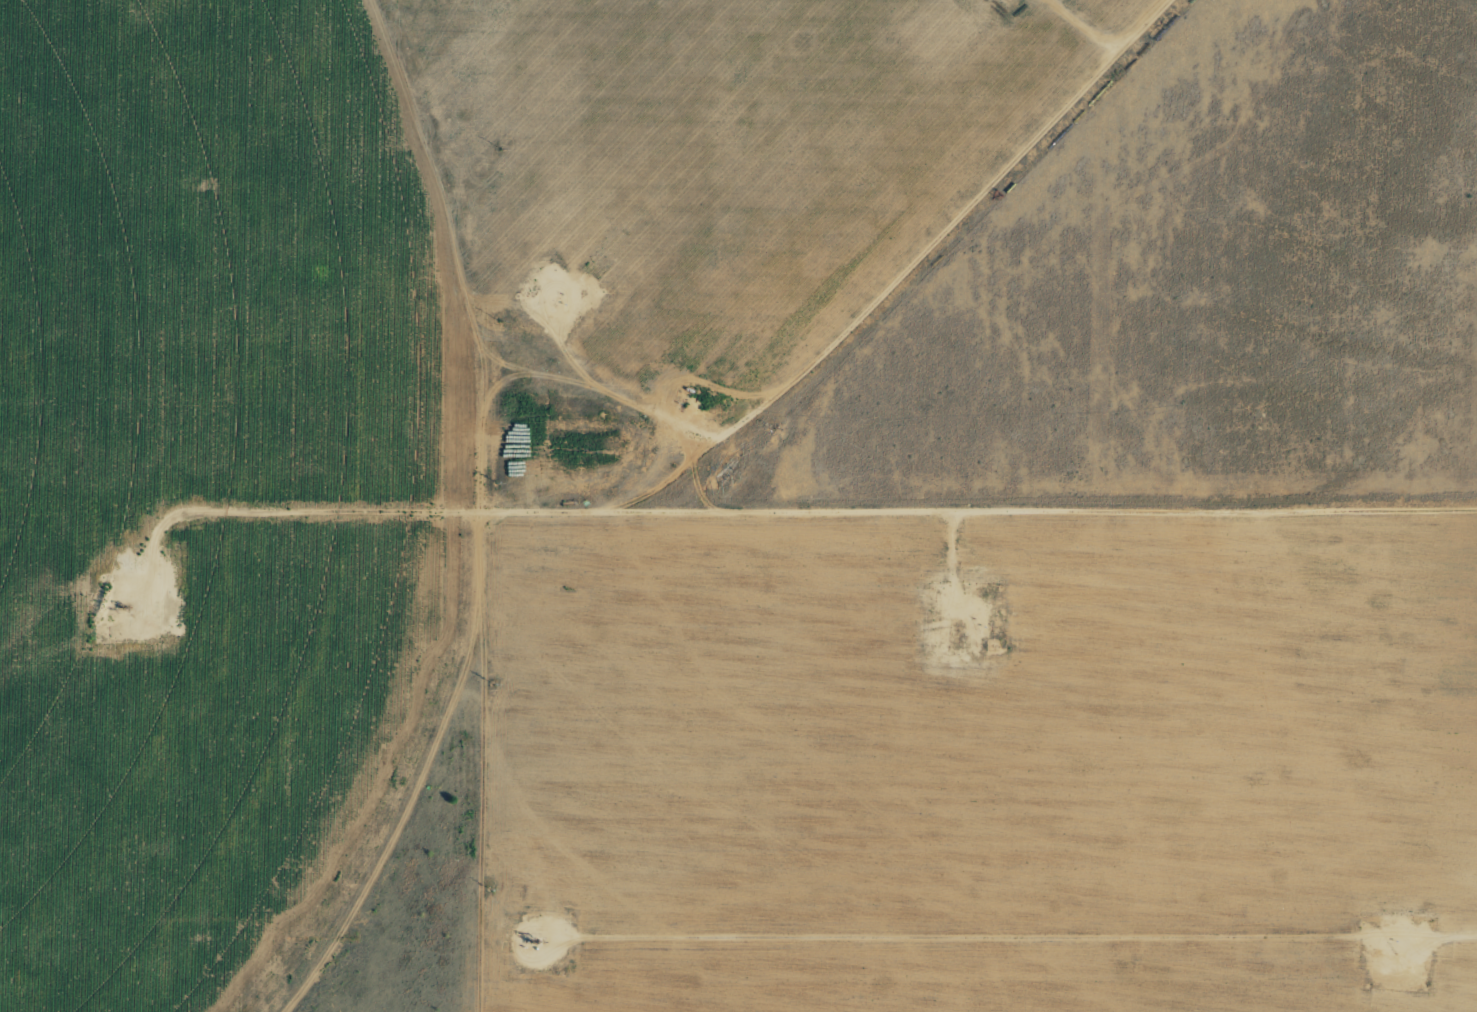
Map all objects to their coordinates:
road: (767, 484)
petroleum well: (127, 610)
petroleum well: (531, 942)

